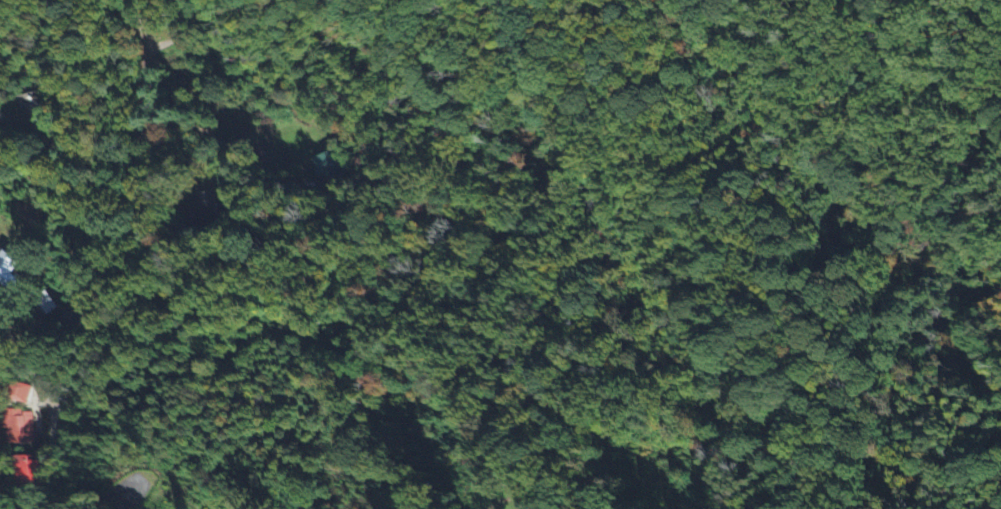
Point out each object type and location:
road: (137, 22)
road: (180, 31)
road: (178, 138)
building: (9, 271)
road: (46, 451)
building: (27, 473)

